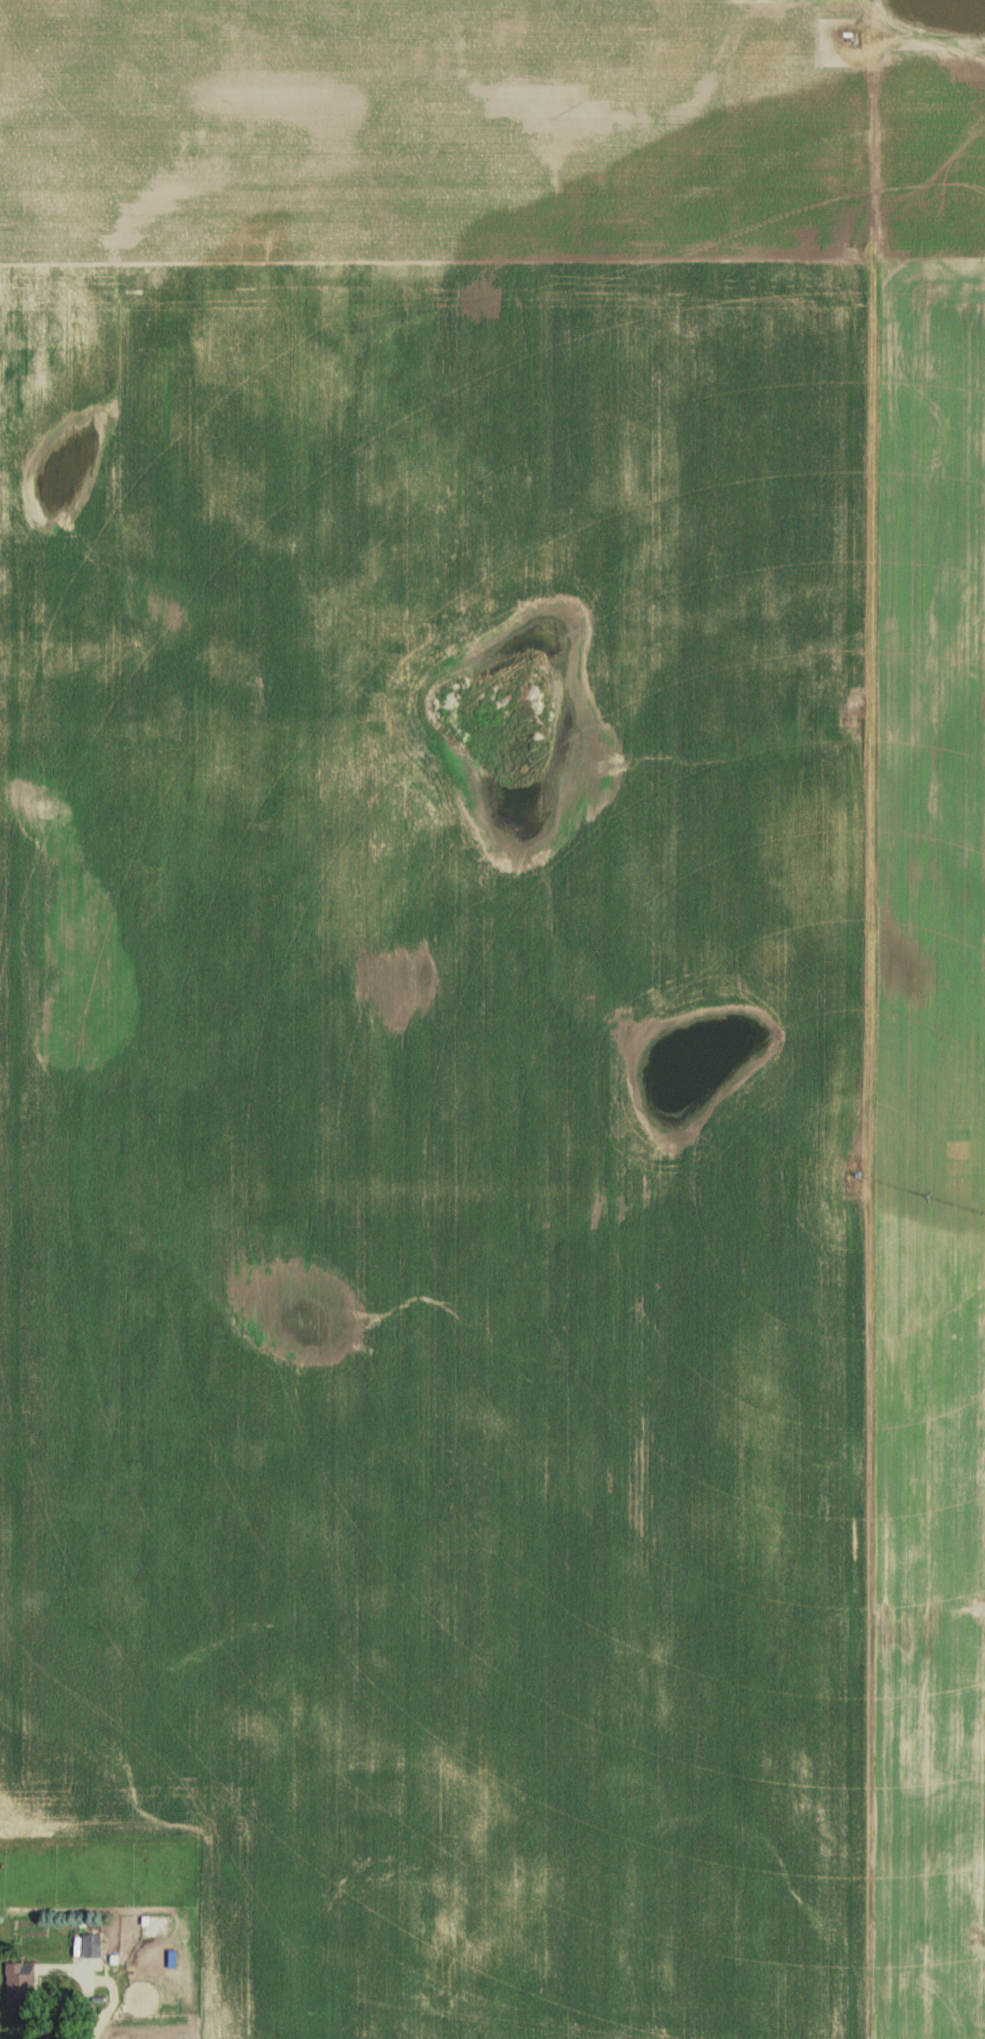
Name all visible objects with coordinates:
building: (91, 1958)
building: (19, 1985)
road: (87, 1987)

